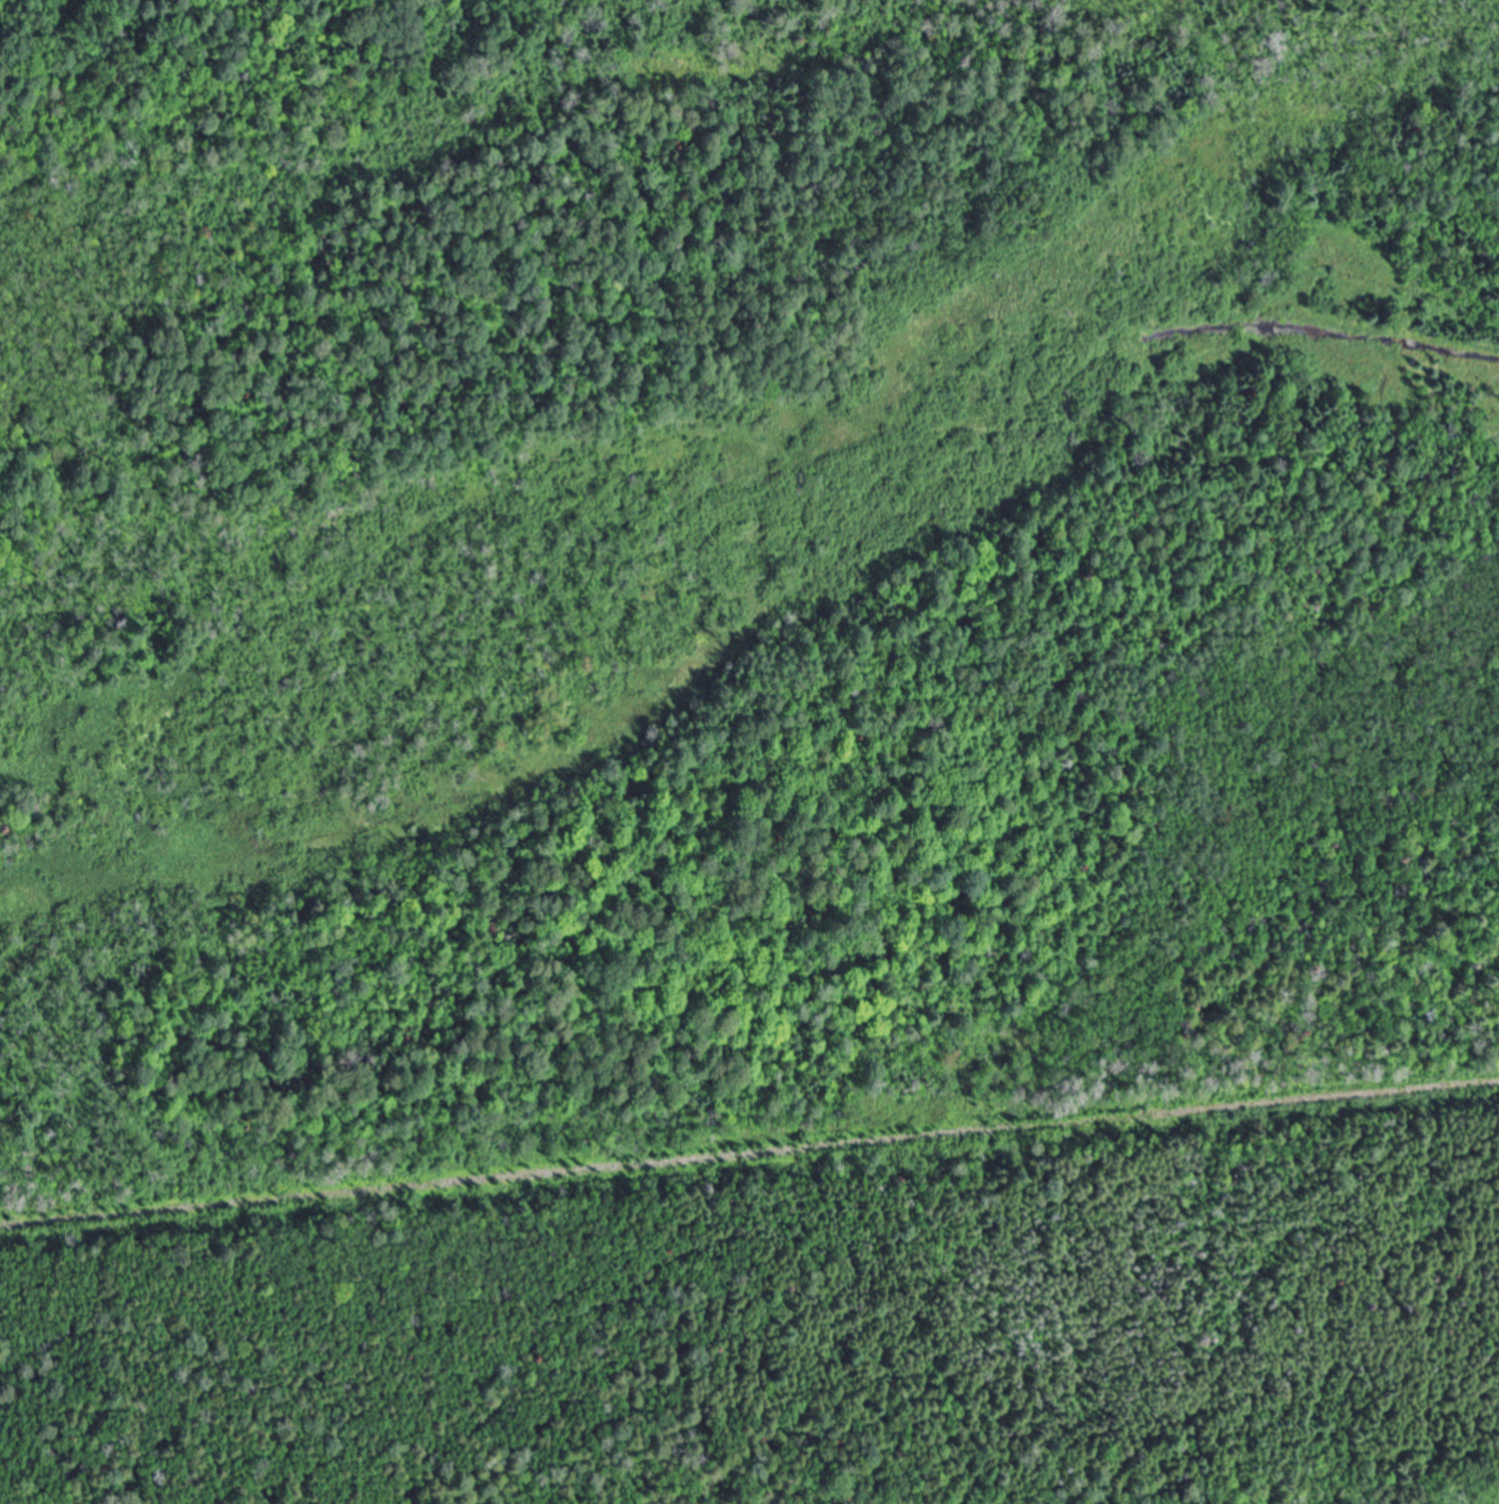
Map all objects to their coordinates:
railway: (749, 1155)

